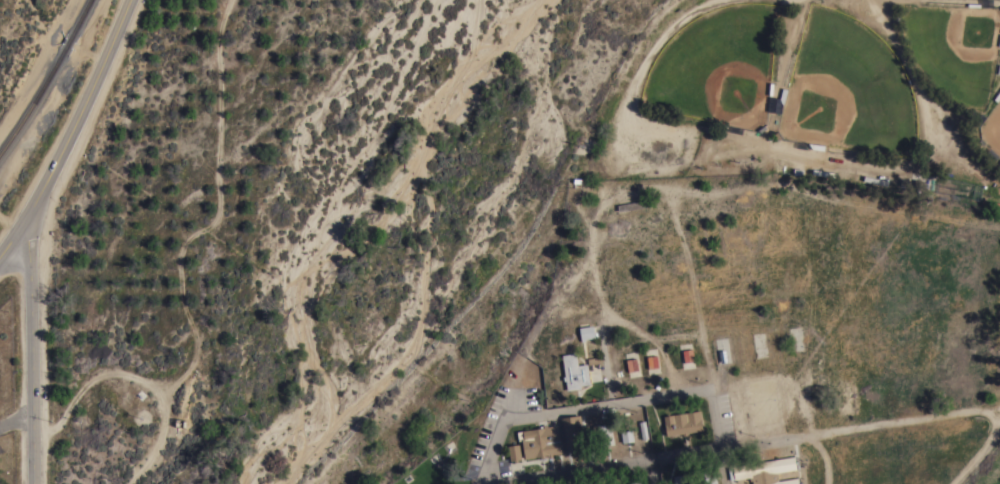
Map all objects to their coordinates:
railway: (46, 76)
road: (69, 131)
building: (633, 205)
building: (586, 333)
building: (721, 350)
road: (34, 355)
building: (686, 355)
building: (574, 372)
road: (618, 402)
road: (18, 419)
building: (682, 423)
building: (571, 432)
building: (603, 435)
building: (625, 435)
building: (539, 442)
building: (514, 453)
road: (573, 471)
building: (765, 471)
building: (709, 477)
building: (680, 479)

